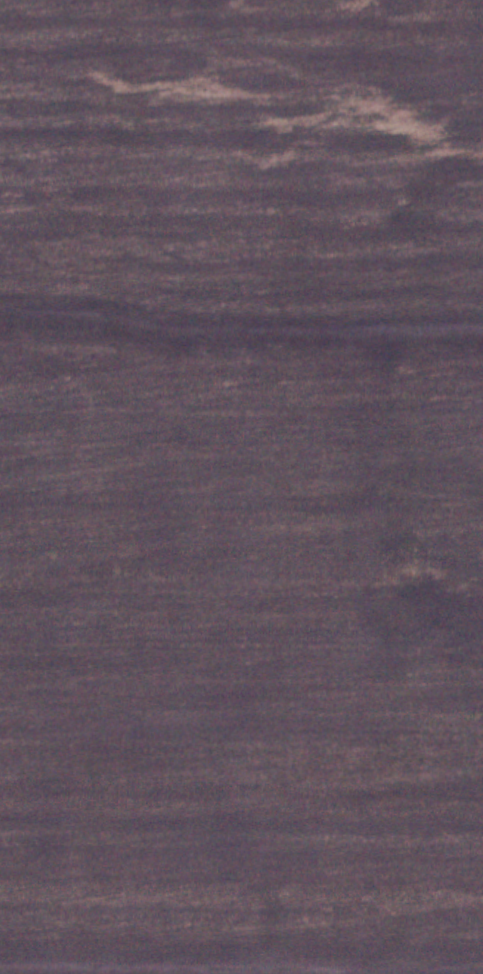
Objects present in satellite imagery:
crop: (241, 487)

